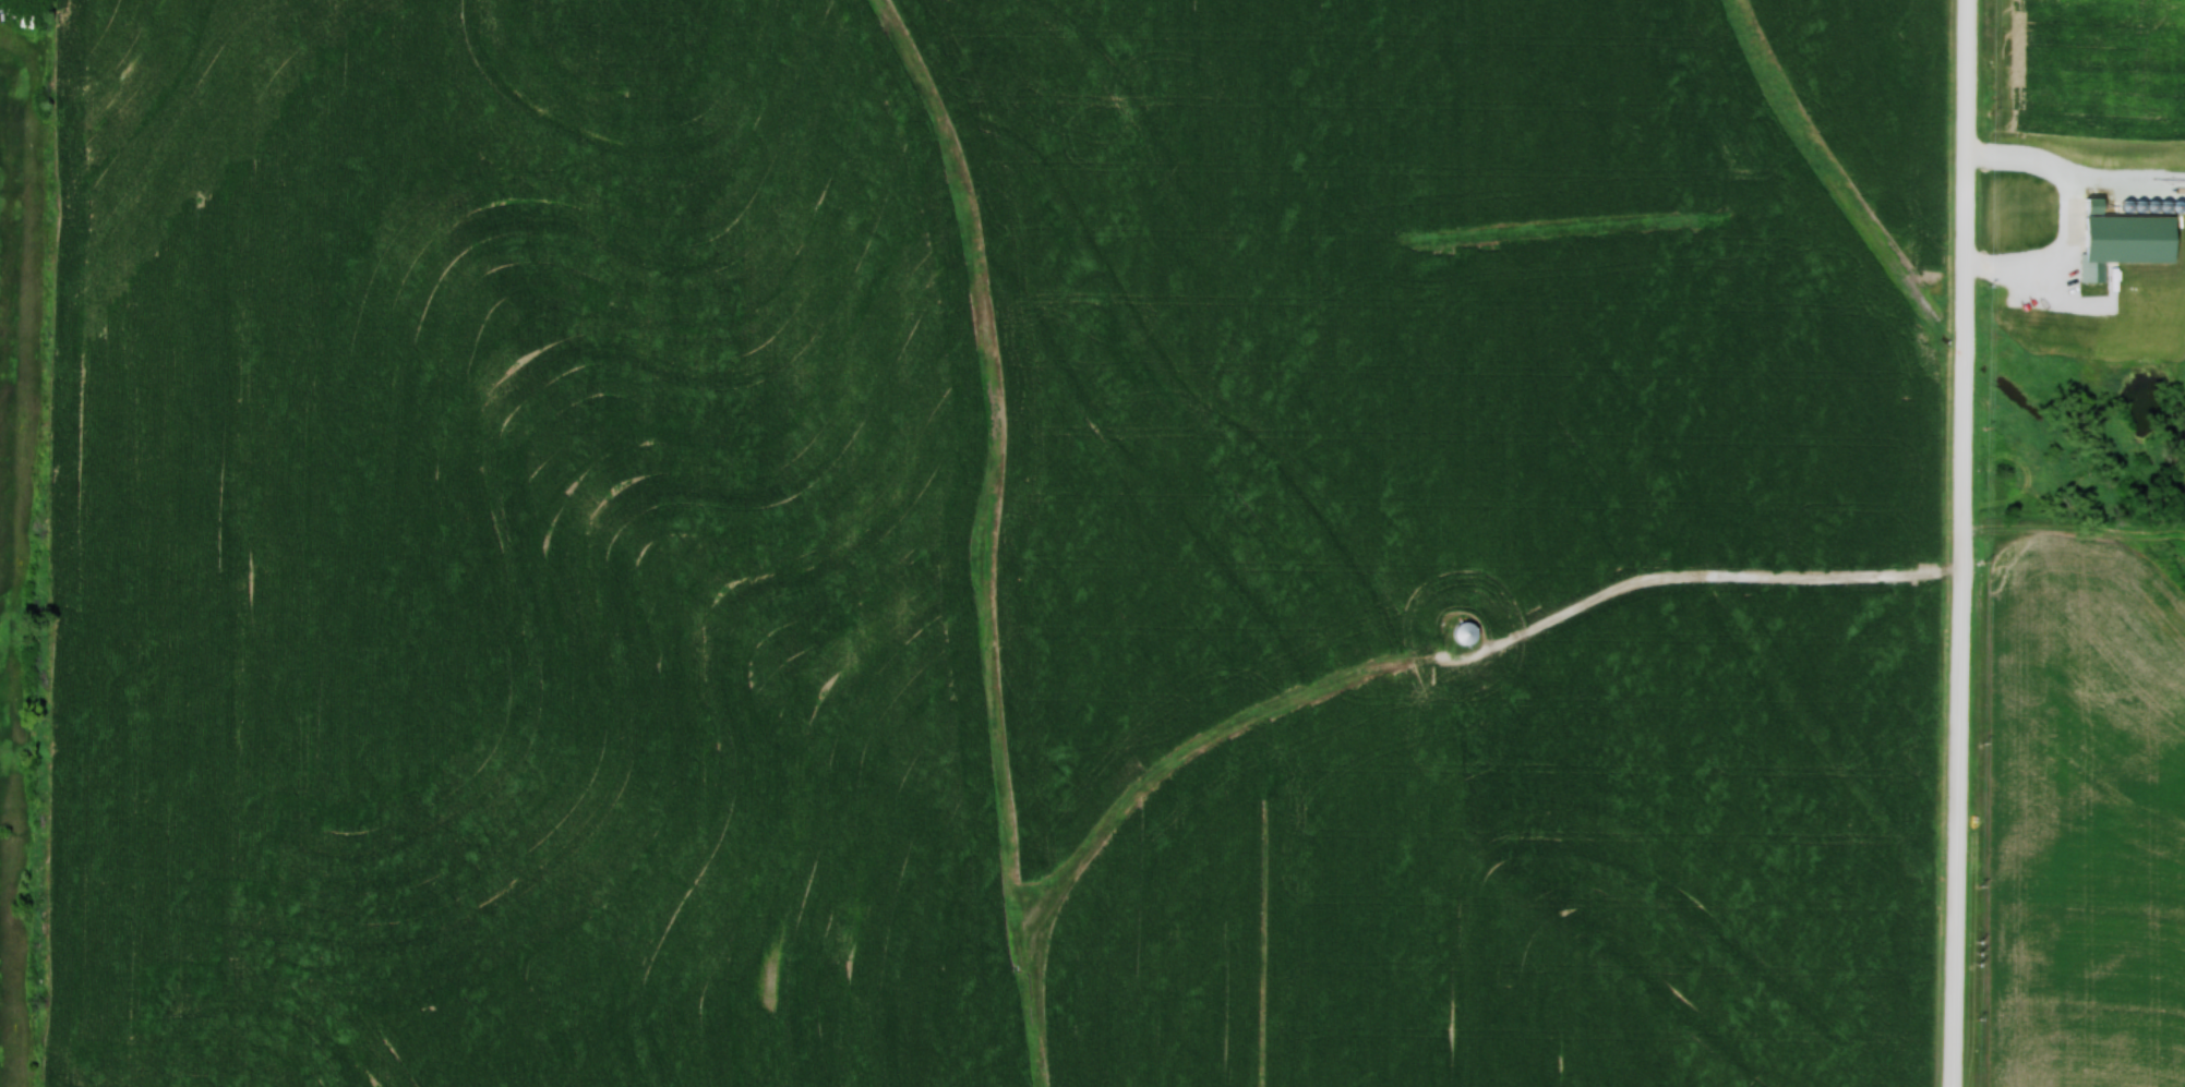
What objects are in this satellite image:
road: (2077, 218)
road: (1965, 543)
building: (1472, 630)

